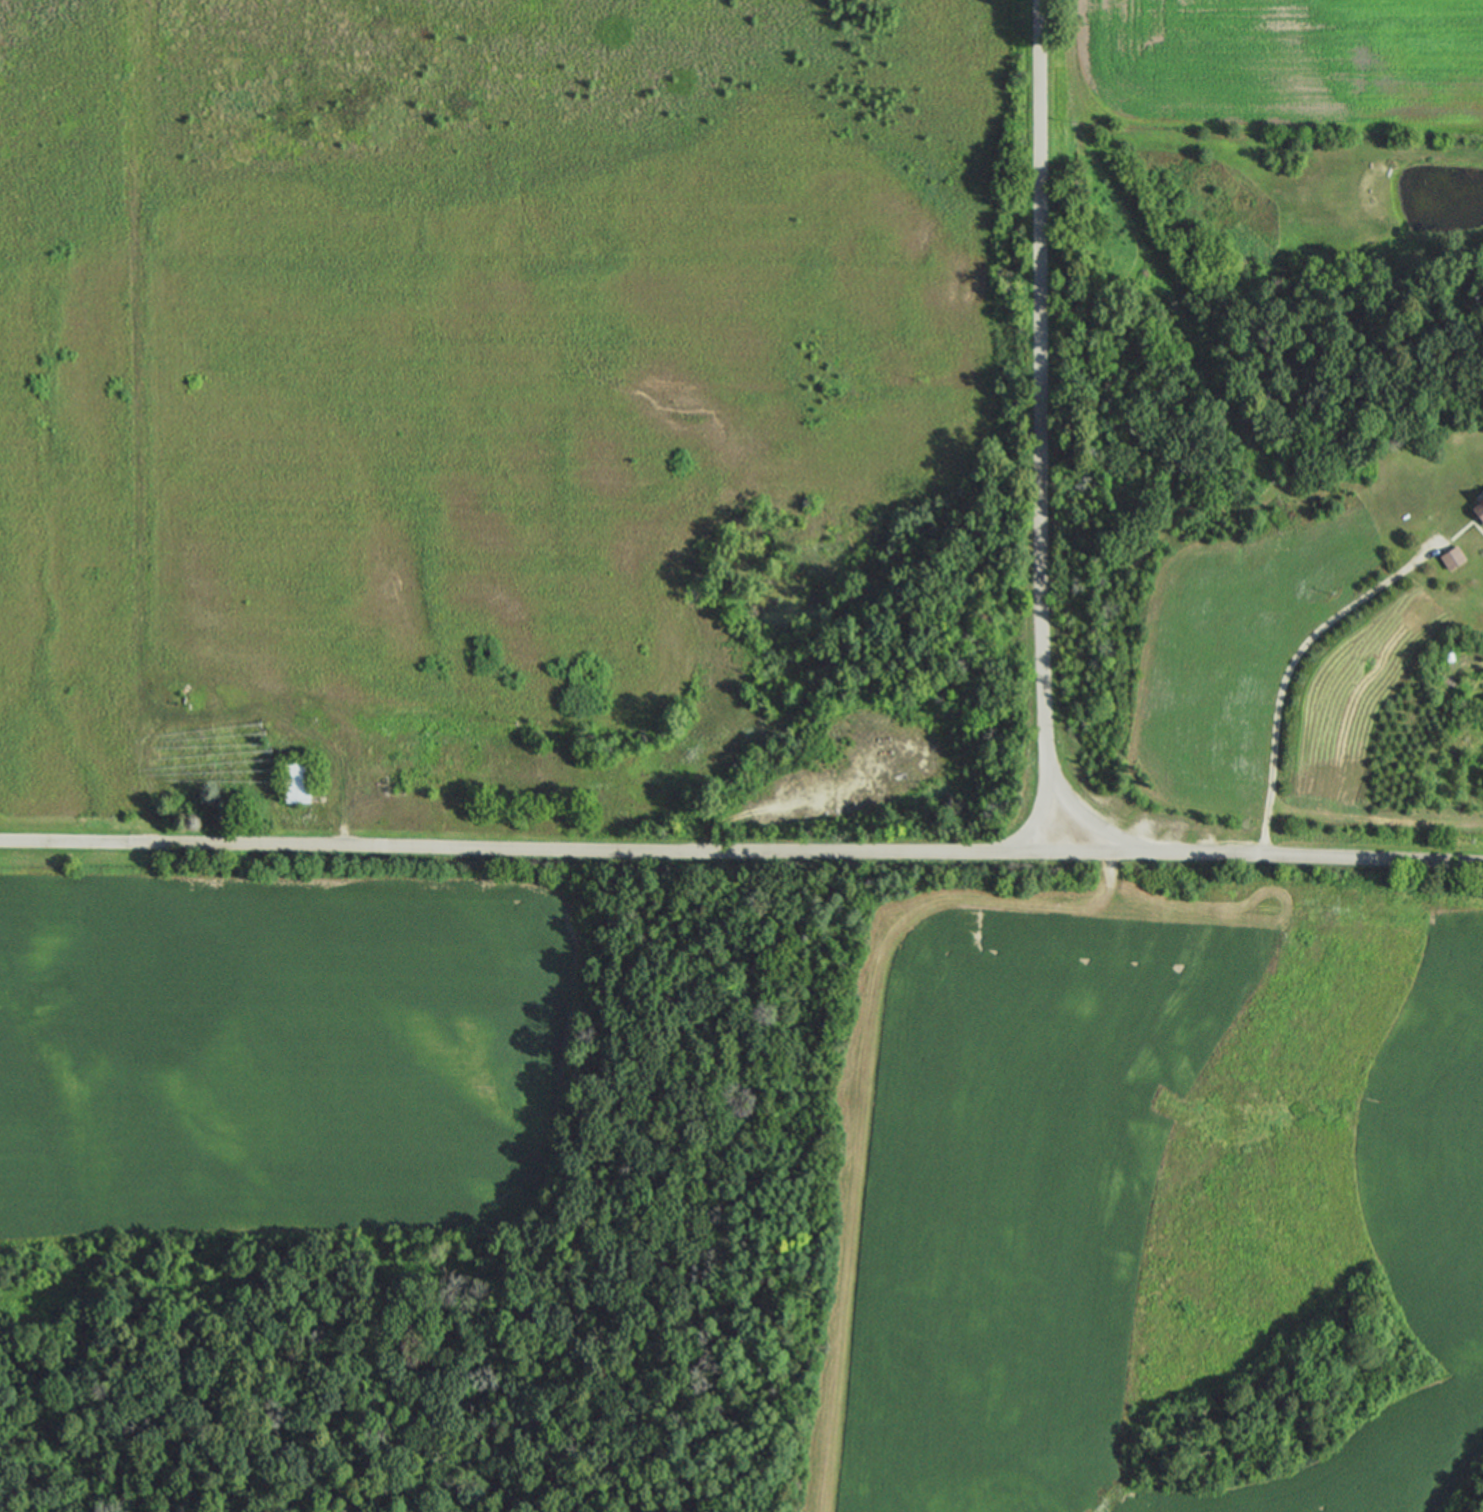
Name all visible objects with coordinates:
road: (1044, 449)
building: (1479, 507)
building: (1452, 557)
road: (1287, 667)
building: (296, 780)
road: (1038, 814)
road: (572, 847)
road: (1314, 856)

